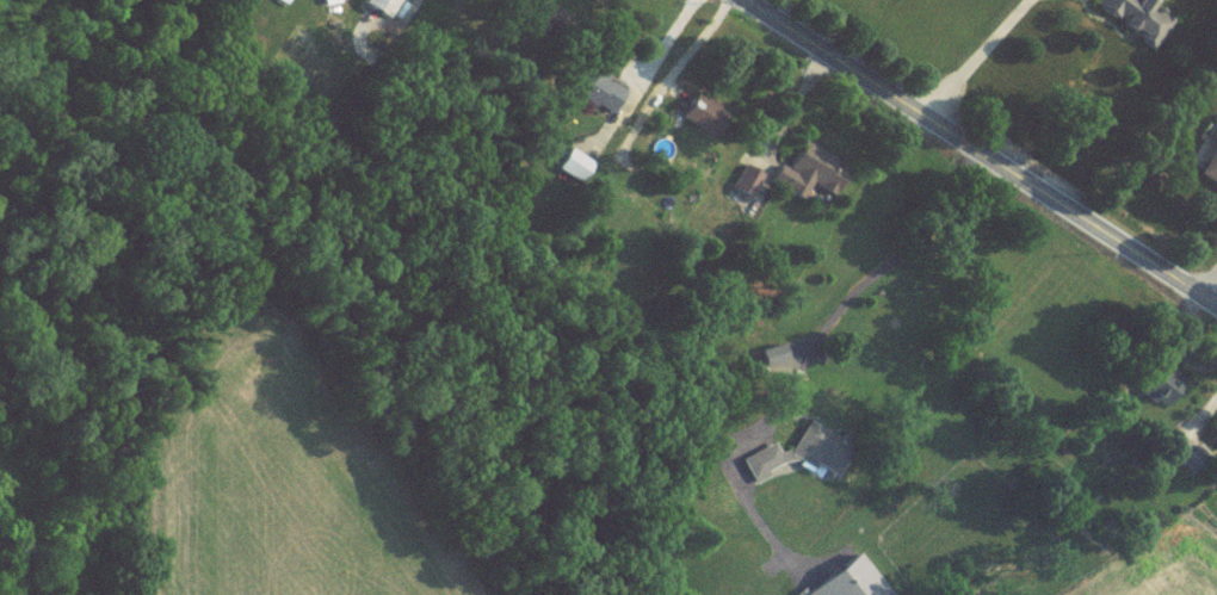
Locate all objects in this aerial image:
building: (378, 7)
building: (1135, 21)
road: (975, 58)
building: (698, 119)
road: (978, 155)
building: (1210, 169)
building: (573, 172)
building: (778, 185)
road: (1210, 292)
building: (1157, 393)
building: (1213, 444)
building: (799, 460)
building: (845, 582)

